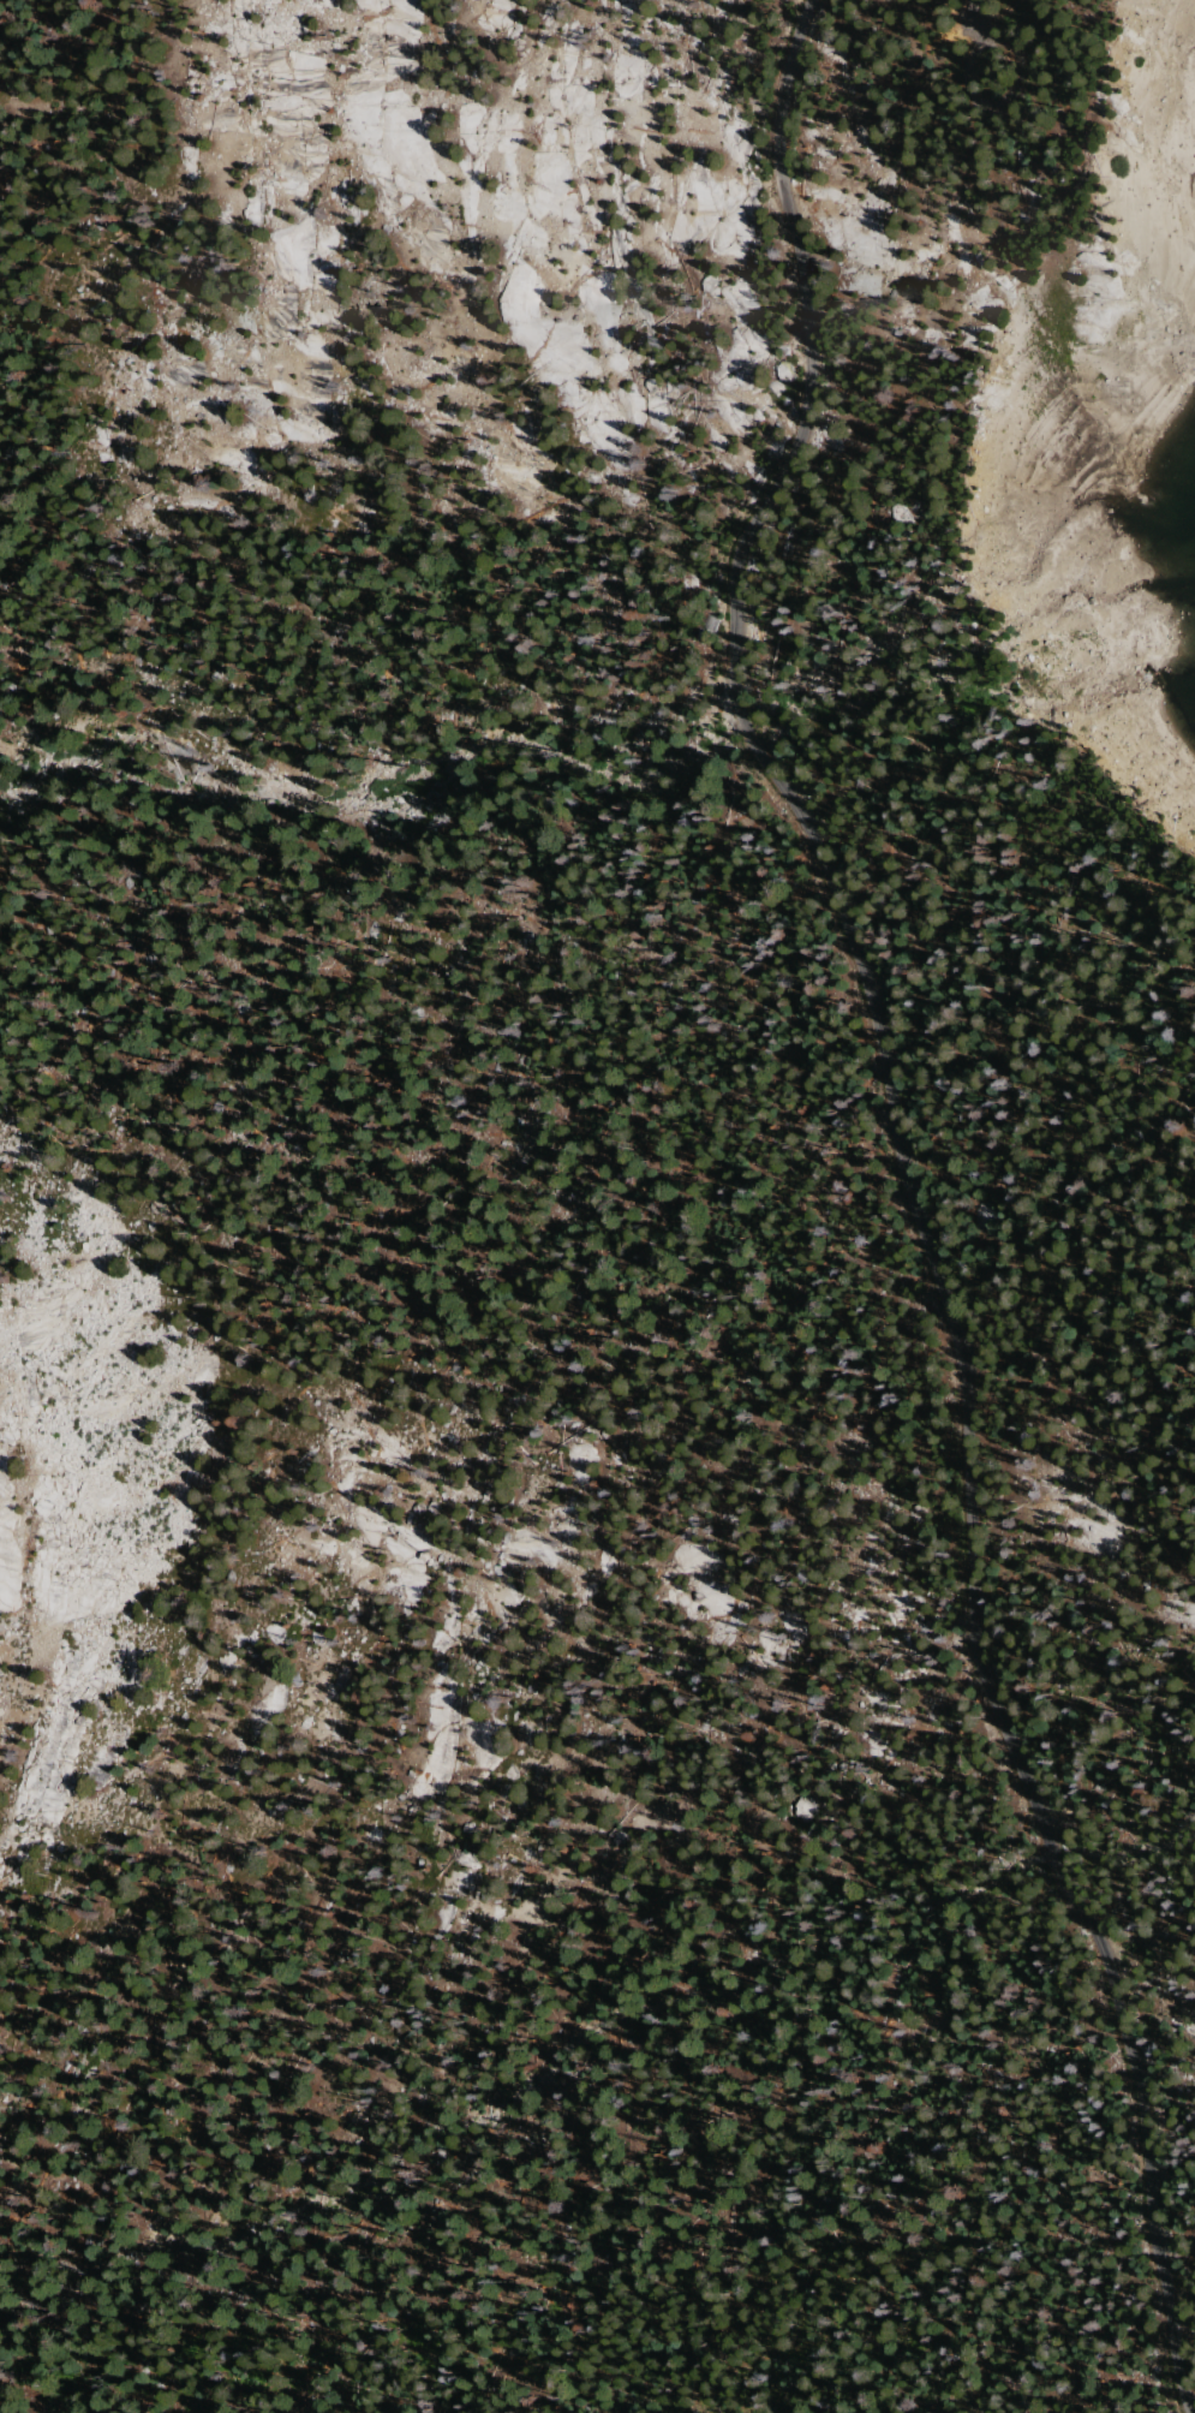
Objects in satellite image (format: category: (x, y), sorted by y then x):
road: (974, 11)
parking lot: (984, 73)
road: (997, 114)
road: (909, 1199)

